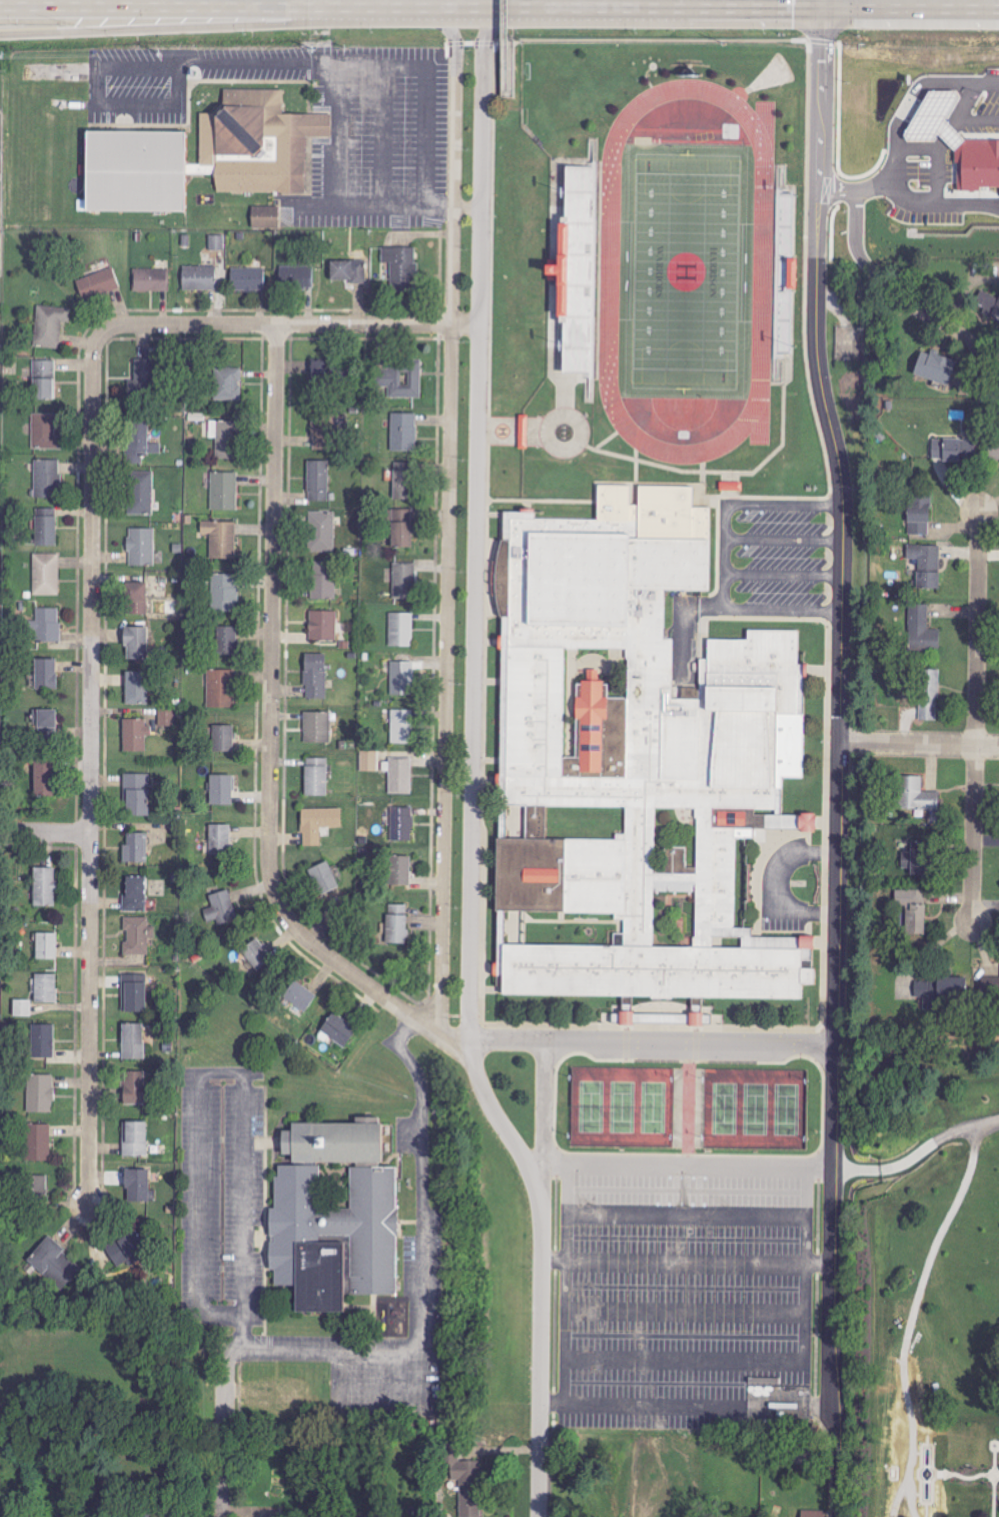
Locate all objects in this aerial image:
road: (499, 9)
traffic signals: (823, 9)
road: (188, 25)
road: (638, 38)
road: (495, 41)
road: (501, 44)
road: (146, 66)
road: (339, 97)
building: (956, 142)
building: (200, 153)
road: (906, 204)
building: (265, 217)
building: (217, 242)
building: (396, 266)
building: (576, 270)
track: (761, 270)
building: (346, 271)
park: (685, 271)
building: (300, 276)
building: (199, 278)
building: (248, 279)
building: (151, 280)
building: (98, 284)
road: (899, 298)
building: (987, 303)
road: (297, 324)
building: (50, 325)
building: (933, 367)
building: (44, 379)
building: (402, 379)
building: (139, 382)
building: (229, 384)
building: (44, 431)
building: (321, 432)
building: (404, 432)
building: (523, 432)
building: (225, 441)
building: (139, 442)
building: (47, 478)
building: (318, 481)
building: (403, 481)
building: (731, 486)
building: (224, 491)
building: (141, 492)
building: (919, 513)
road: (449, 517)
road: (478, 519)
building: (46, 527)
building: (400, 528)
building: (322, 531)
building: (221, 538)
building: (141, 547)
road: (724, 558)
building: (926, 565)
building: (47, 574)
building: (324, 580)
building: (405, 580)
building: (224, 592)
building: (136, 599)
building: (48, 625)
building: (323, 626)
building: (401, 629)
building: (921, 630)
building: (227, 640)
building: (135, 643)
building: (46, 674)
building: (315, 676)
building: (402, 678)
building: (136, 688)
building: (221, 688)
building: (929, 695)
road: (976, 717)
building: (46, 722)
building: (317, 727)
building: (401, 727)
building: (135, 735)
road: (269, 735)
building: (223, 738)
road: (919, 743)
road: (838, 757)
building: (369, 761)
building: (634, 761)
road: (90, 762)
building: (41, 774)
building: (316, 776)
building: (400, 776)
building: (222, 790)
building: (136, 795)
building: (916, 795)
building: (318, 824)
building: (402, 824)
road: (44, 833)
building: (219, 839)
building: (135, 849)
building: (914, 862)
building: (400, 871)
building: (323, 878)
road: (779, 883)
building: (44, 887)
building: (135, 894)
building: (224, 907)
building: (913, 910)
building: (397, 924)
building: (137, 936)
building: (46, 946)
building: (257, 955)
building: (45, 988)
building: (134, 994)
building: (299, 996)
building: (22, 1008)
building: (625, 1020)
building: (695, 1020)
building: (338, 1030)
building: (43, 1041)
building: (133, 1041)
road: (654, 1046)
building: (134, 1088)
building: (40, 1094)
park: (588, 1103)
park: (621, 1104)
park: (654, 1105)
park: (721, 1107)
park: (755, 1107)
park: (788, 1108)
road: (544, 1114)
building: (135, 1140)
building: (38, 1143)
road: (917, 1155)
road: (687, 1162)
building: (136, 1186)
building: (36, 1187)
building: (334, 1217)
building: (125, 1247)
building: (50, 1261)
road: (540, 1263)
road: (246, 1320)
road: (223, 1425)
building: (468, 1484)
building: (813, 1513)

